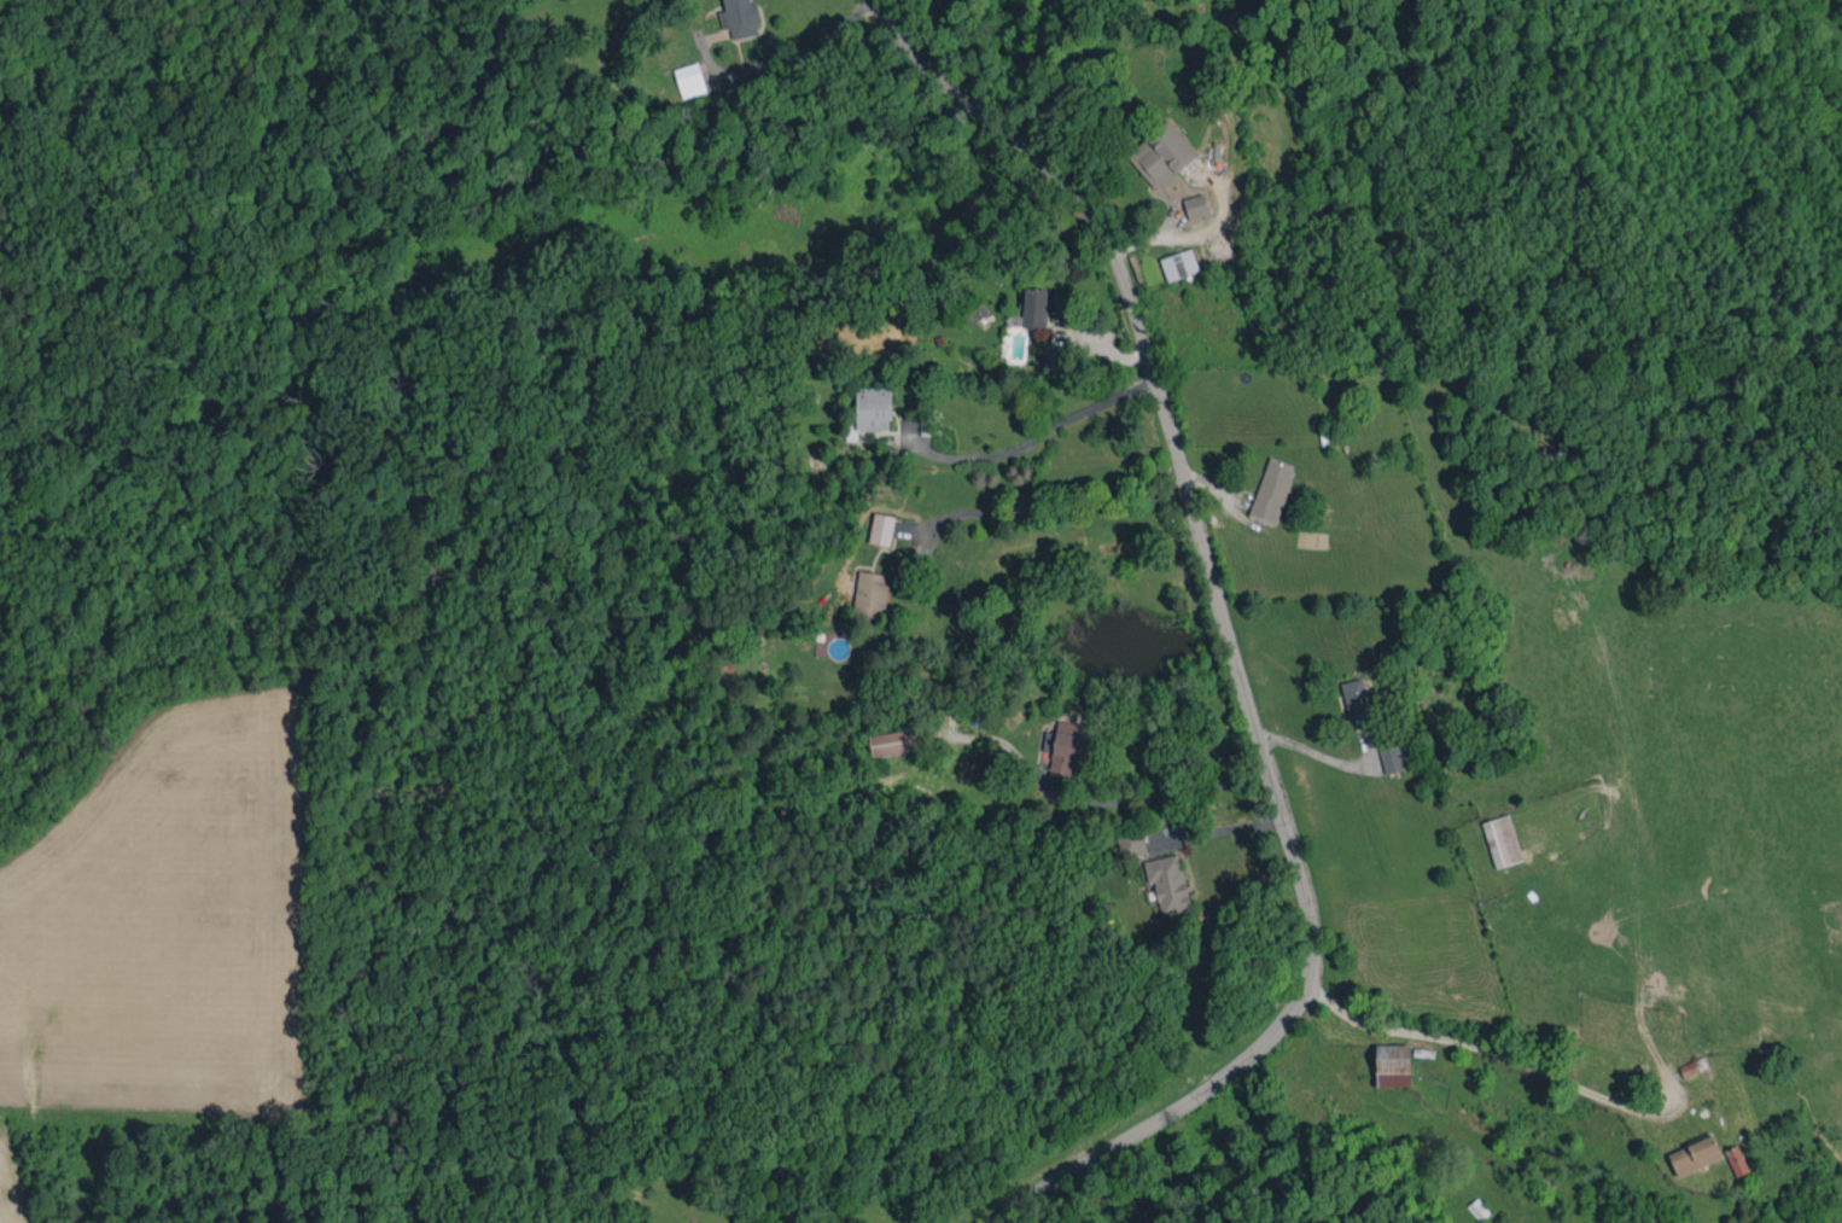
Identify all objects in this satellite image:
building: (740, 17)
road: (792, 51)
building: (689, 80)
building: (1161, 155)
building: (1195, 206)
building: (1179, 264)
building: (1030, 309)
building: (873, 408)
road: (1037, 435)
building: (1271, 490)
road: (1063, 509)
building: (881, 529)
building: (870, 593)
road: (1228, 642)
building: (1356, 697)
building: (890, 742)
building: (1066, 747)
road: (1315, 752)
building: (1391, 758)
road: (1152, 794)
road: (1217, 829)
building: (1502, 840)
building: (1166, 883)
road: (1486, 1054)
building: (1392, 1065)
building: (1692, 1066)
building: (1694, 1154)
building: (1736, 1159)
building: (699, 1222)

